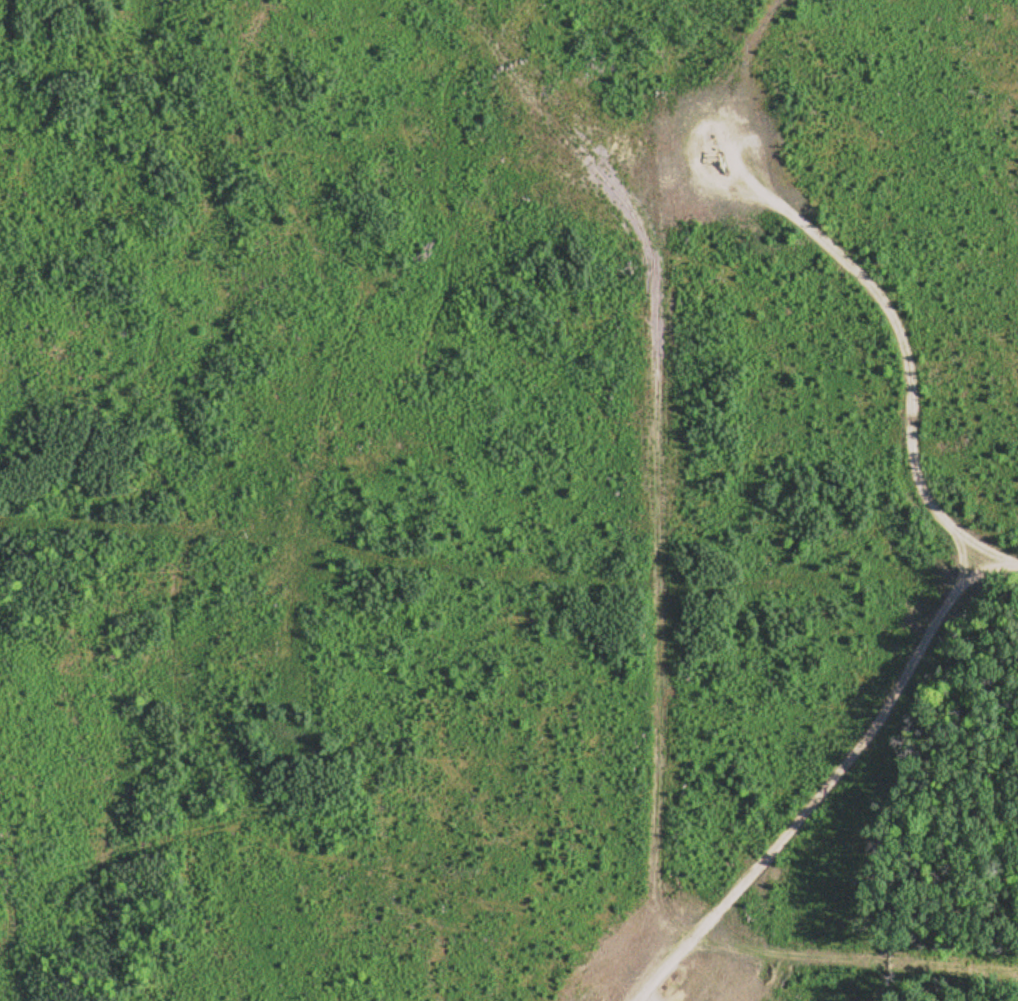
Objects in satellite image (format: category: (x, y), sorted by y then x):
petroleum well: (719, 158)
road: (991, 555)
road: (946, 595)
petroleum well: (669, 998)

